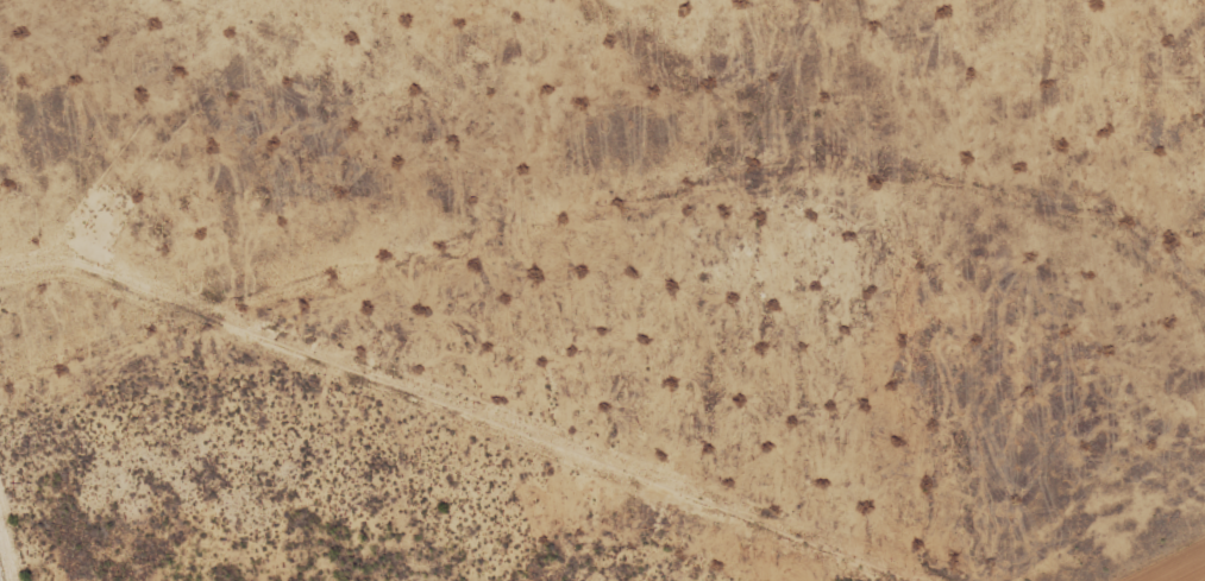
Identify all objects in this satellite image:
road: (0, 576)

